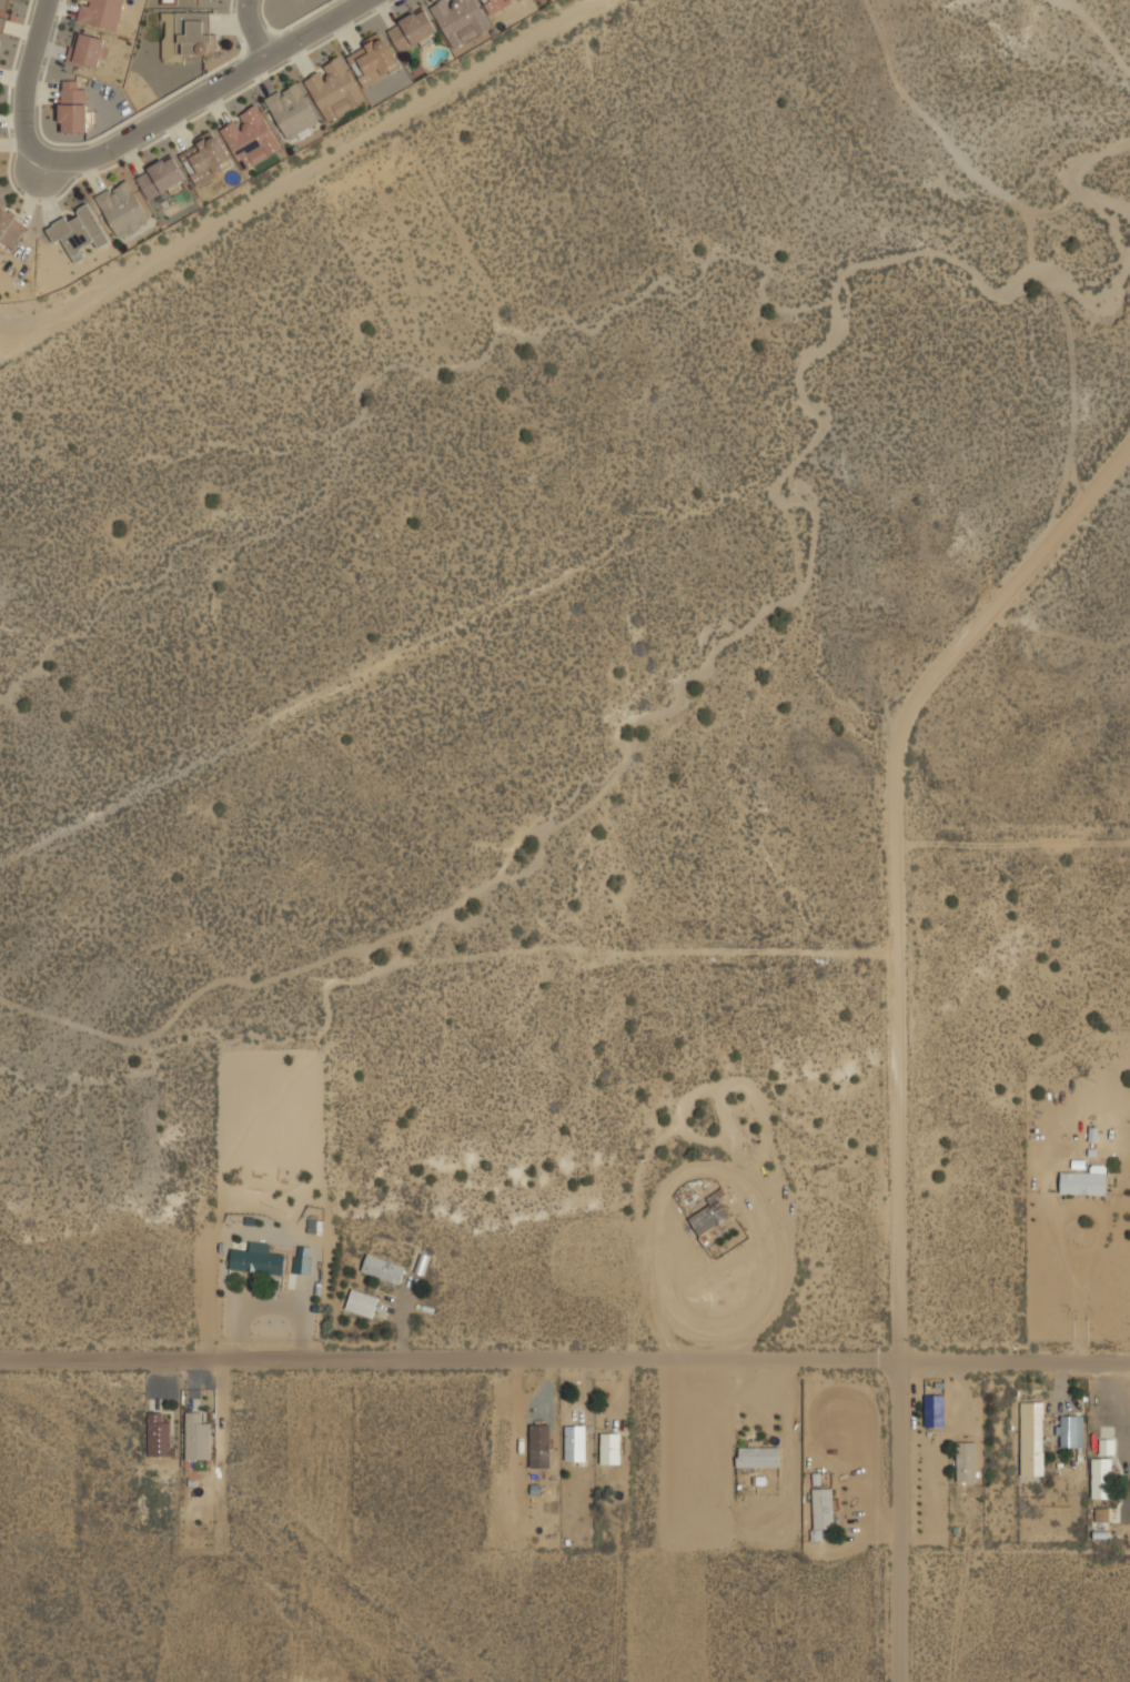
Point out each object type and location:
building: (3, 12)
building: (100, 12)
building: (464, 17)
road: (252, 29)
building: (413, 30)
building: (186, 34)
building: (88, 49)
building: (374, 60)
building: (334, 88)
building: (73, 104)
building: (292, 110)
road: (134, 134)
building: (250, 135)
building: (206, 157)
road: (302, 174)
building: (161, 175)
building: (122, 208)
building: (10, 226)
building: (77, 230)
road: (1011, 582)
road: (1011, 843)
building: (1084, 1179)
road: (898, 1202)
building: (710, 1212)
building: (258, 1258)
building: (303, 1259)
building: (384, 1268)
building: (362, 1301)
road: (565, 1360)
building: (935, 1411)
building: (1071, 1430)
building: (159, 1433)
building: (196, 1436)
building: (1033, 1437)
building: (504, 1439)
building: (611, 1442)
building: (575, 1443)
building: (539, 1444)
building: (1106, 1446)
building: (758, 1454)
building: (967, 1460)
building: (1101, 1477)
building: (823, 1507)
building: (1101, 1514)

